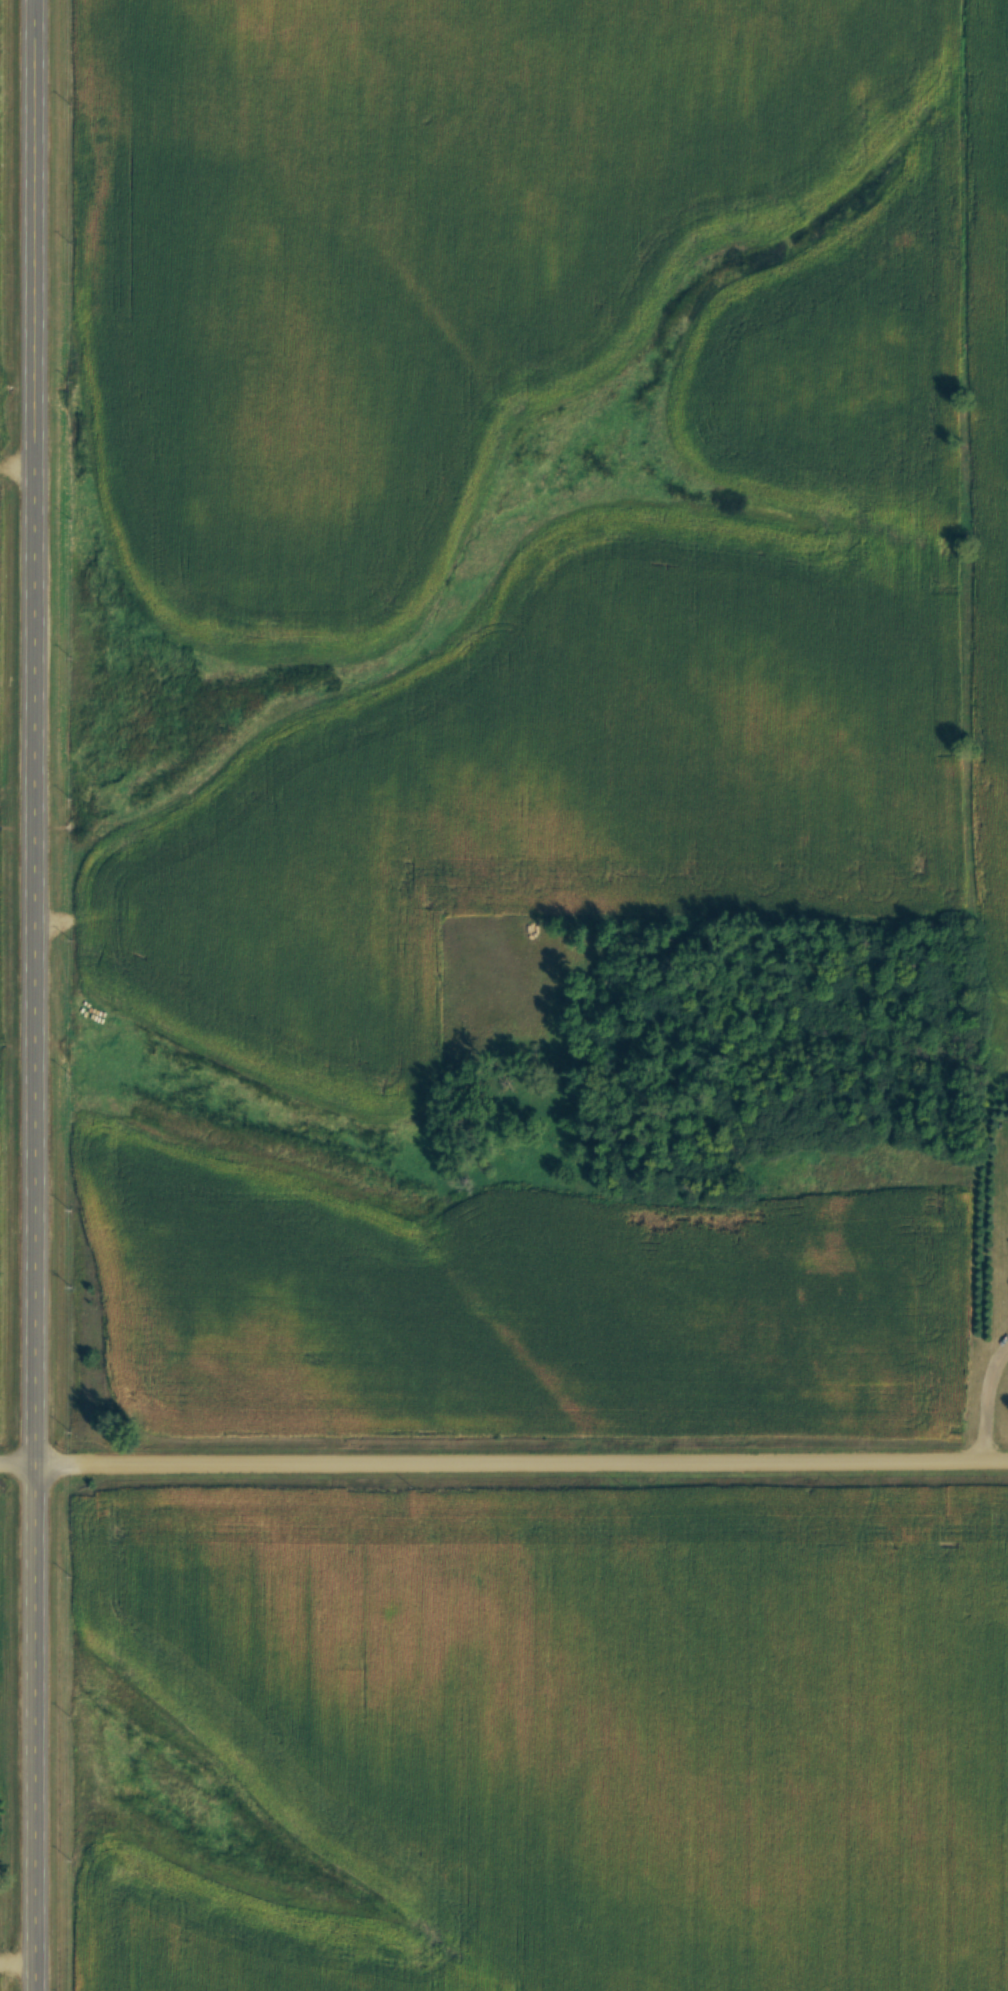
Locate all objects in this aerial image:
road: (42, 995)
building: (767, 1361)
road: (980, 1390)
road: (504, 1462)

